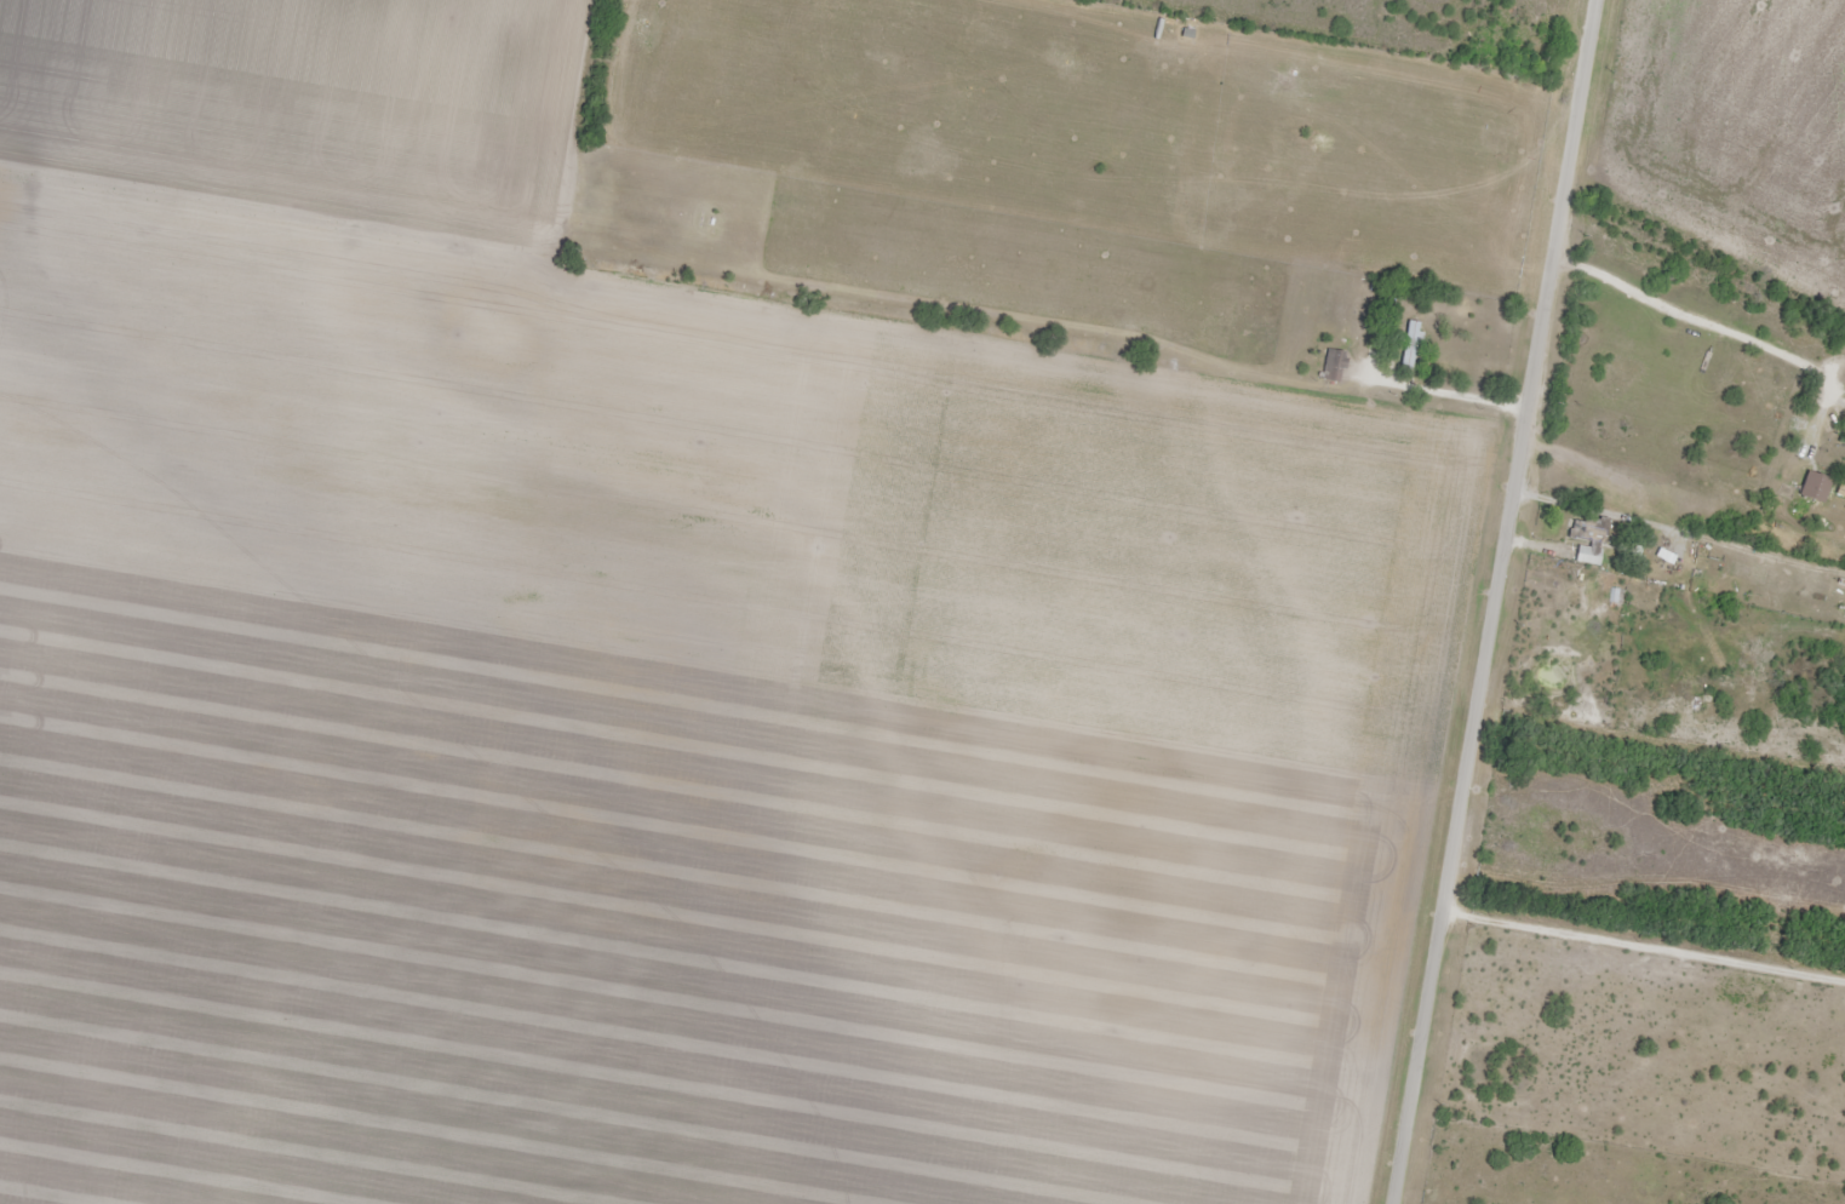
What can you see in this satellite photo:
road: (1697, 319)
road: (1495, 601)

